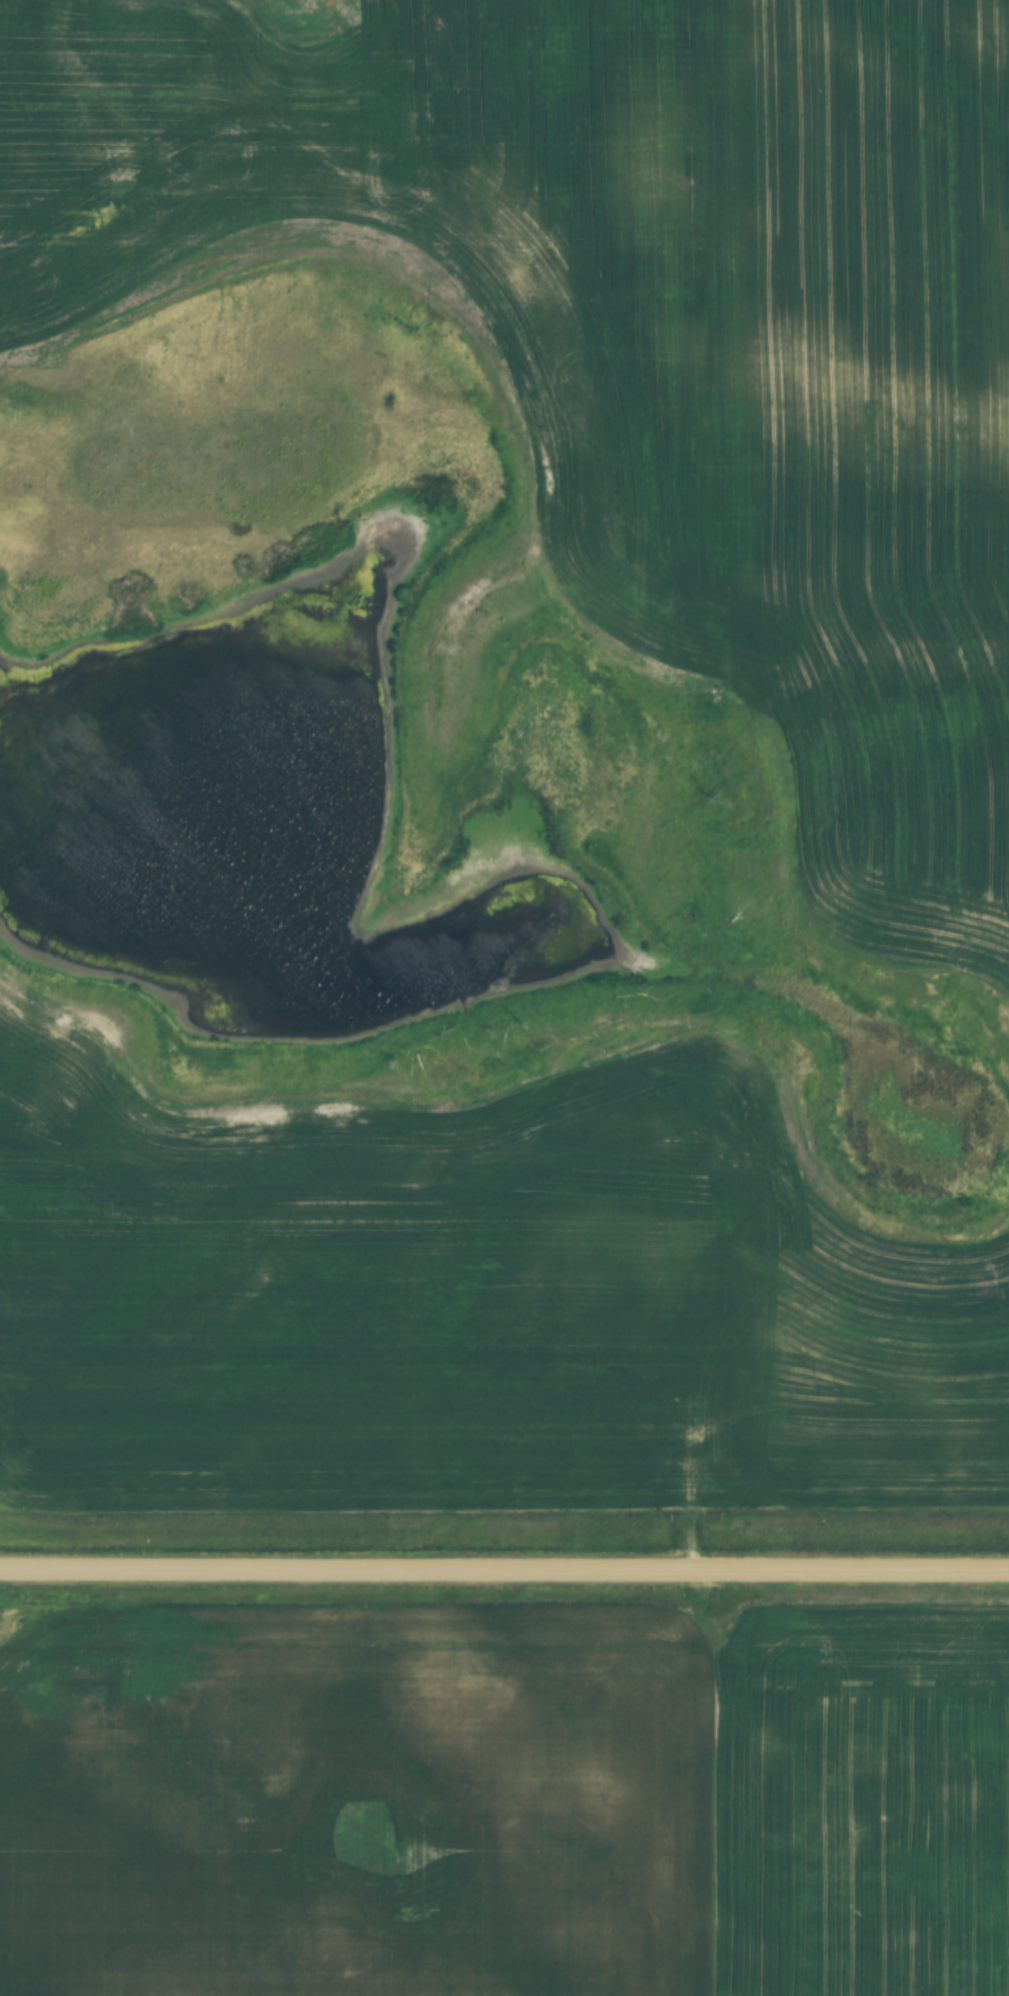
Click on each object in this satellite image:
road: (504, 1573)

